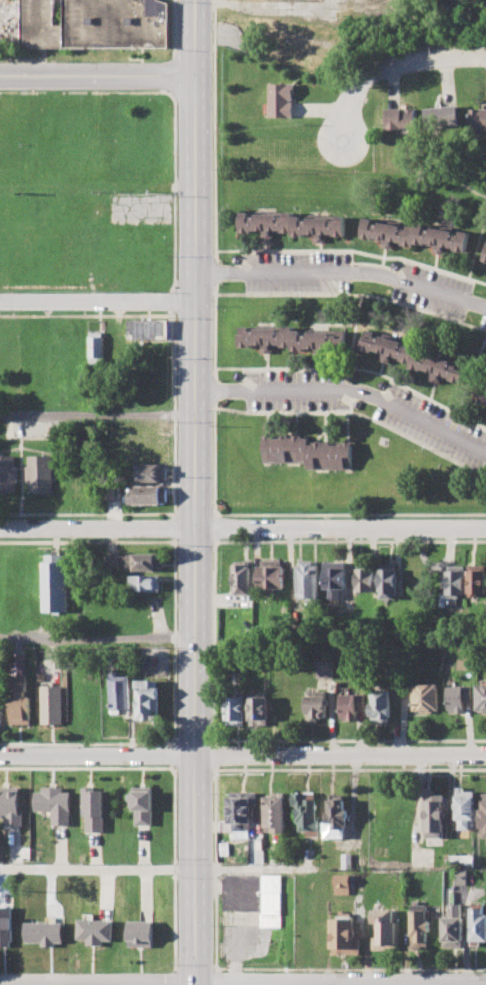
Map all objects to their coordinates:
road: (261, 8)
parking lot: (10, 23)
building: (93, 23)
road: (174, 28)
road: (387, 62)
road: (96, 73)
road: (171, 73)
road: (169, 92)
building: (280, 101)
road: (174, 107)
building: (443, 117)
building: (477, 119)
building: (404, 121)
building: (293, 224)
building: (417, 235)
building: (485, 255)
building: (484, 259)
road: (194, 263)
road: (342, 271)
road: (97, 300)
road: (170, 301)
building: (148, 330)
building: (290, 338)
building: (94, 347)
building: (416, 355)
road: (346, 389)
building: (481, 392)
road: (175, 412)
road: (96, 414)
building: (152, 451)
building: (308, 452)
building: (7, 473)
building: (150, 473)
building: (38, 474)
building: (109, 491)
building: (148, 495)
road: (87, 513)
road: (96, 527)
road: (175, 528)
road: (340, 528)
road: (174, 541)
building: (111, 560)
building: (144, 562)
building: (271, 574)
building: (241, 577)
building: (335, 578)
building: (307, 579)
building: (477, 579)
building: (364, 580)
building: (388, 580)
building: (456, 580)
building: (147, 582)
building: (56, 584)
road: (97, 642)
road: (174, 642)
building: (325, 669)
building: (121, 693)
building: (426, 697)
building: (458, 697)
building: (481, 698)
building: (20, 699)
building: (148, 700)
building: (53, 704)
building: (316, 704)
building: (380, 705)
building: (2, 706)
building: (351, 706)
building: (235, 708)
building: (259, 710)
road: (172, 744)
road: (243, 754)
road: (171, 755)
road: (196, 756)
road: (170, 766)
road: (174, 784)
building: (55, 804)
building: (143, 804)
building: (12, 805)
building: (465, 806)
building: (93, 808)
building: (307, 811)
building: (483, 812)
building: (243, 813)
building: (276, 813)
building: (434, 815)
building: (336, 818)
building: (347, 859)
building: (462, 862)
road: (180, 867)
building: (466, 877)
building: (343, 884)
building: (271, 901)
building: (478, 924)
building: (421, 927)
building: (454, 928)
building: (385, 929)
building: (95, 931)
building: (141, 933)
building: (345, 934)
road: (174, 978)
road: (98, 983)
road: (341, 983)

